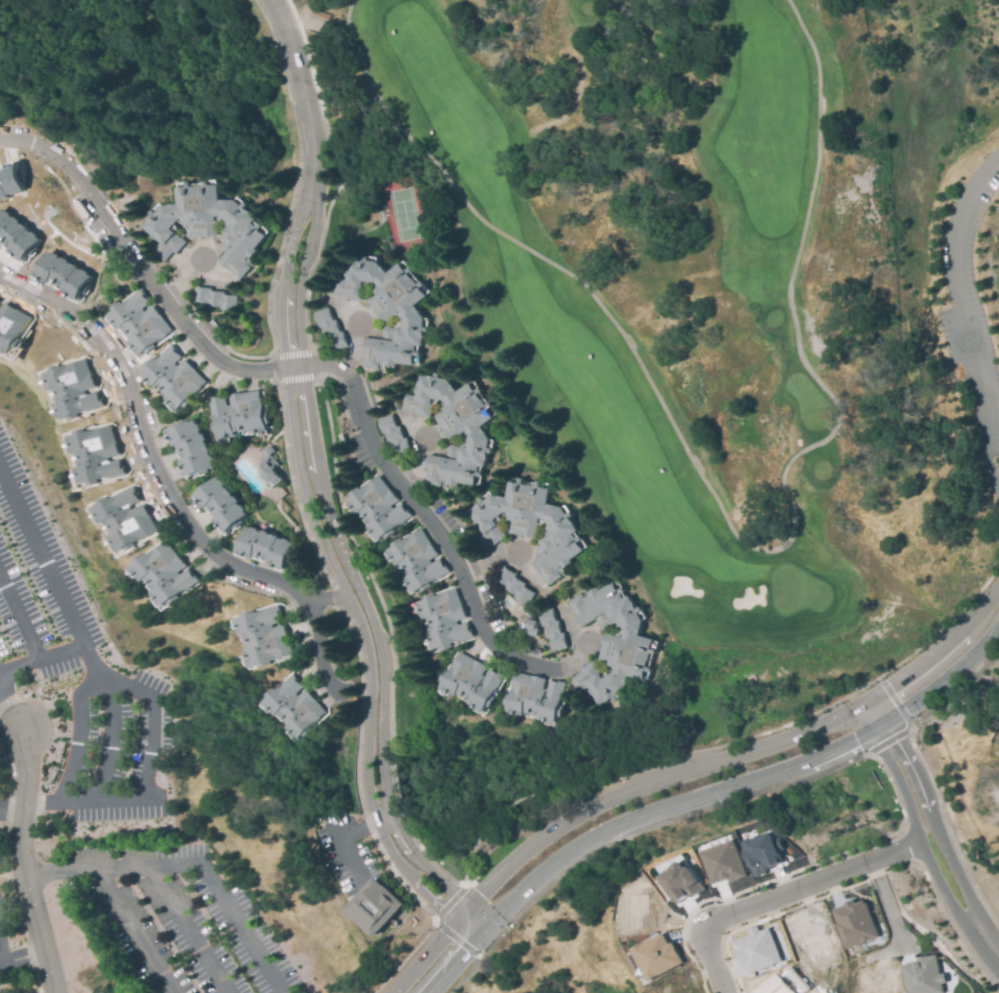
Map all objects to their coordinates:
building: (322, 15)
road: (986, 36)
road: (302, 98)
building: (366, 122)
building: (9, 183)
park: (402, 208)
building: (206, 225)
building: (16, 236)
park: (952, 238)
road: (134, 264)
building: (63, 276)
road: (180, 280)
road: (979, 283)
road: (282, 284)
building: (215, 298)
park: (651, 298)
building: (386, 307)
road: (962, 316)
building: (138, 323)
building: (11, 327)
building: (330, 328)
road: (352, 351)
building: (173, 376)
road: (988, 390)
building: (74, 391)
building: (238, 414)
building: (454, 429)
building: (394, 434)
road: (144, 445)
building: (187, 450)
building: (98, 454)
building: (270, 467)
road: (413, 468)
road: (303, 486)
building: (220, 505)
building: (375, 515)
building: (129, 517)
road: (728, 519)
building: (528, 525)
road: (430, 533)
building: (269, 551)
road: (488, 562)
building: (419, 563)
road: (42, 569)
road: (347, 570)
road: (22, 571)
road: (0, 574)
building: (166, 581)
building: (513, 584)
road: (326, 599)
building: (444, 620)
road: (31, 622)
building: (531, 624)
building: (551, 630)
road: (35, 632)
building: (266, 636)
building: (616, 646)
road: (320, 648)
road: (25, 666)
building: (473, 683)
road: (21, 697)
building: (535, 700)
road: (894, 702)
road: (9, 707)
building: (288, 711)
road: (78, 712)
road: (148, 724)
road: (55, 728)
road: (887, 740)
road: (113, 741)
road: (737, 756)
road: (365, 772)
road: (11, 781)
road: (747, 784)
parking lot: (109, 788)
road: (13, 814)
road: (931, 832)
road: (477, 834)
road: (337, 838)
building: (761, 853)
road: (27, 862)
building: (721, 864)
road: (58, 872)
road: (208, 879)
building: (676, 884)
road: (787, 892)
road: (19, 904)
building: (376, 908)
road: (890, 908)
traffic signals: (467, 909)
road: (459, 917)
road: (476, 917)
building: (853, 921)
traffic signals: (452, 925)
traffic signals: (485, 925)
road: (183, 928)
road: (126, 930)
road: (461, 932)
road: (477, 932)
traffic signals: (470, 940)
road: (2, 946)
road: (192, 946)
building: (755, 951)
parking lot: (5, 953)
road: (23, 956)
road: (422, 959)
building: (654, 959)
road: (447, 966)
building: (921, 975)
building: (782, 985)

